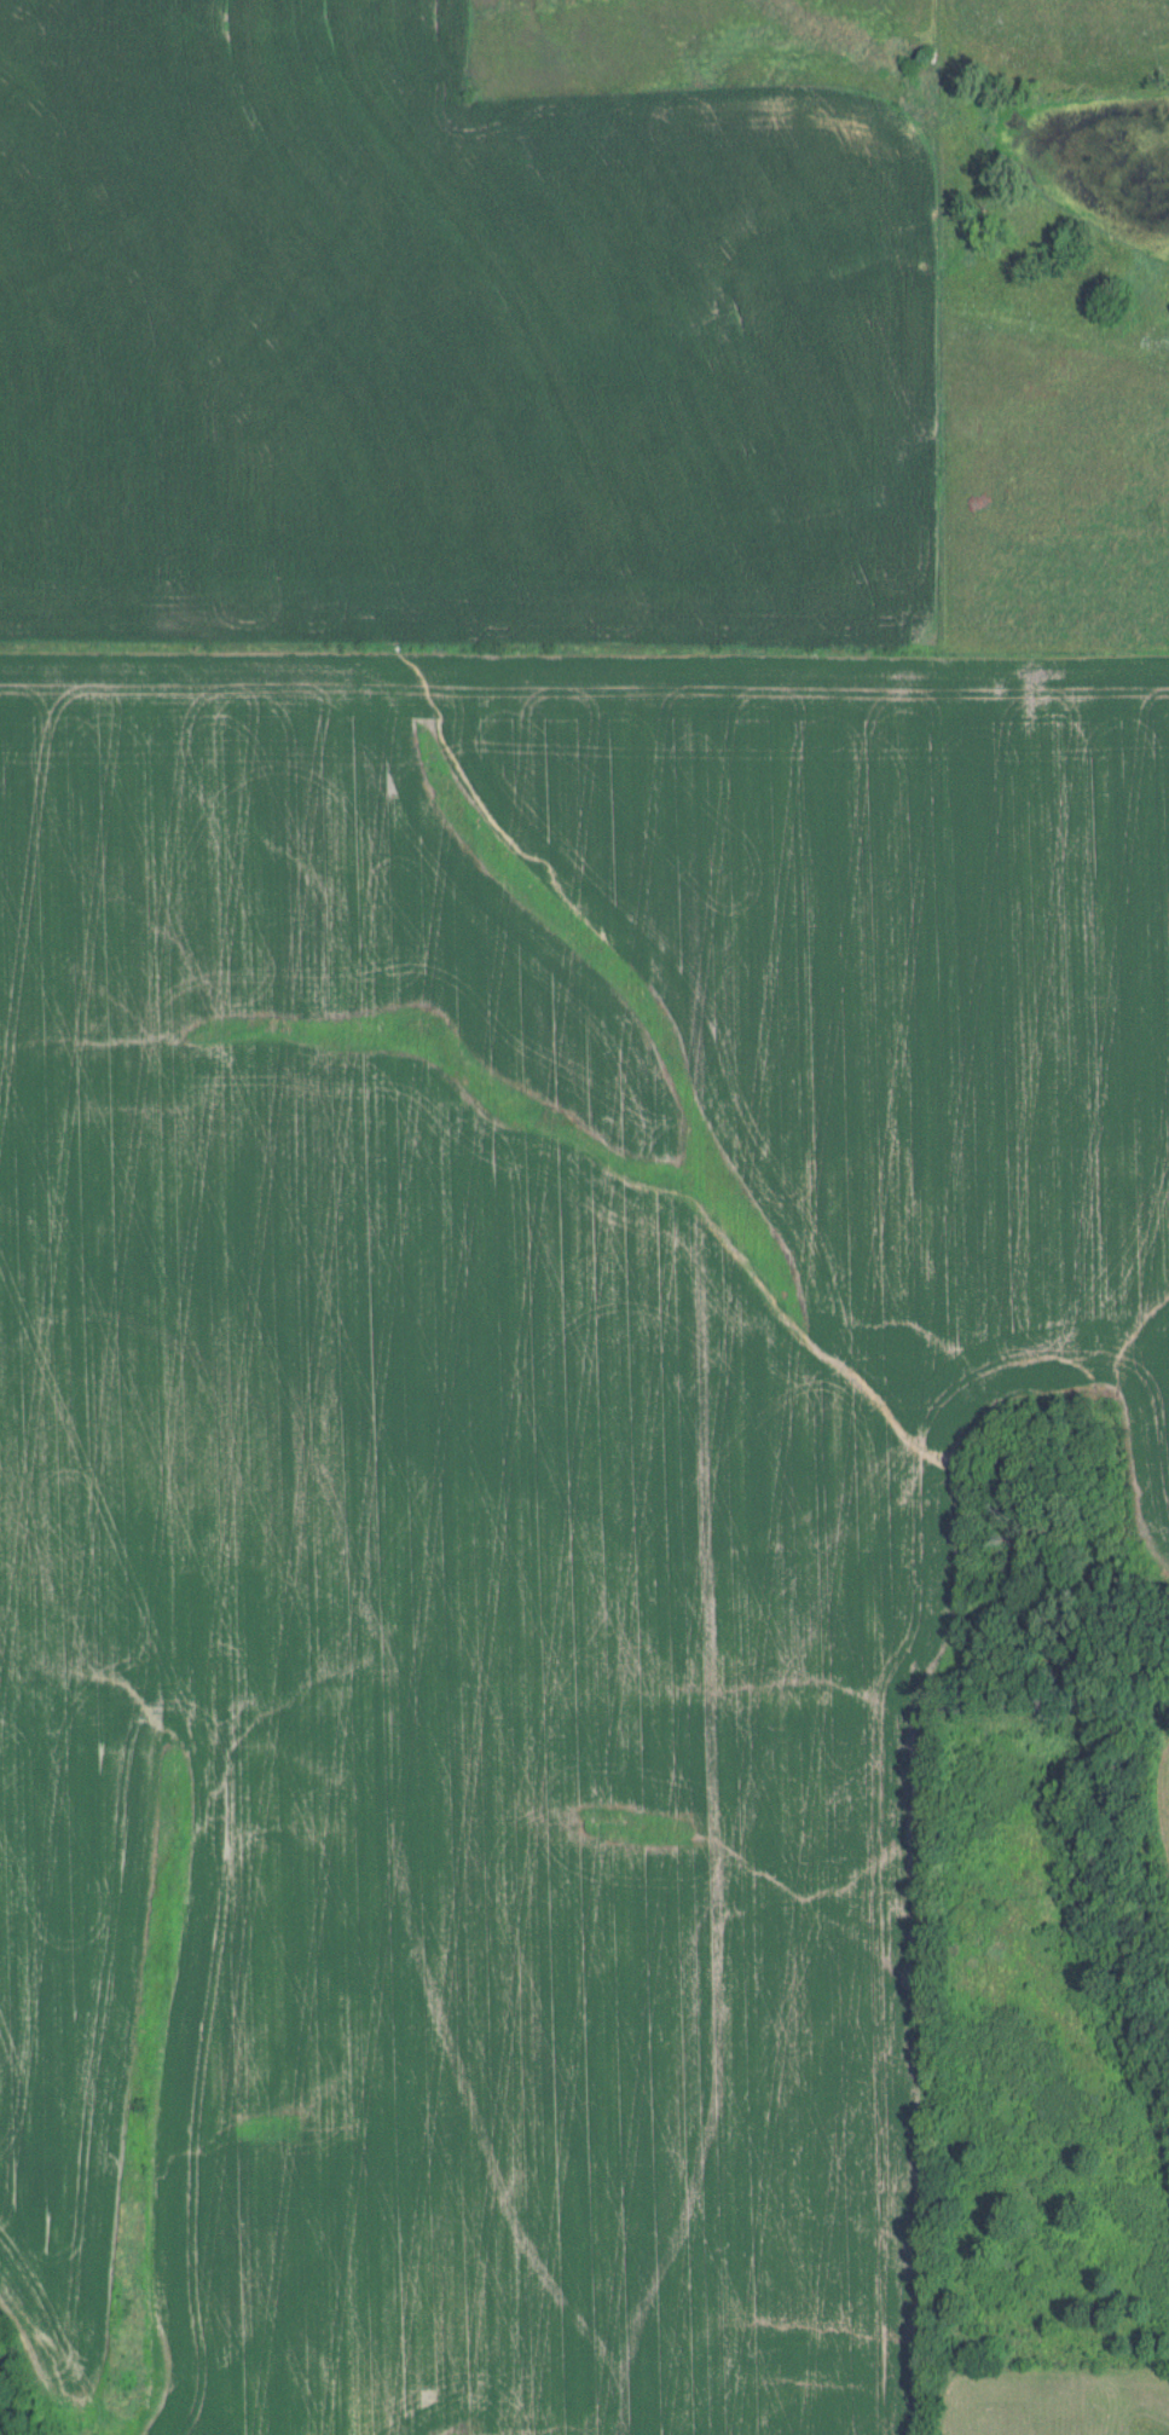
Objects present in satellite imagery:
crop: (447, 345)

